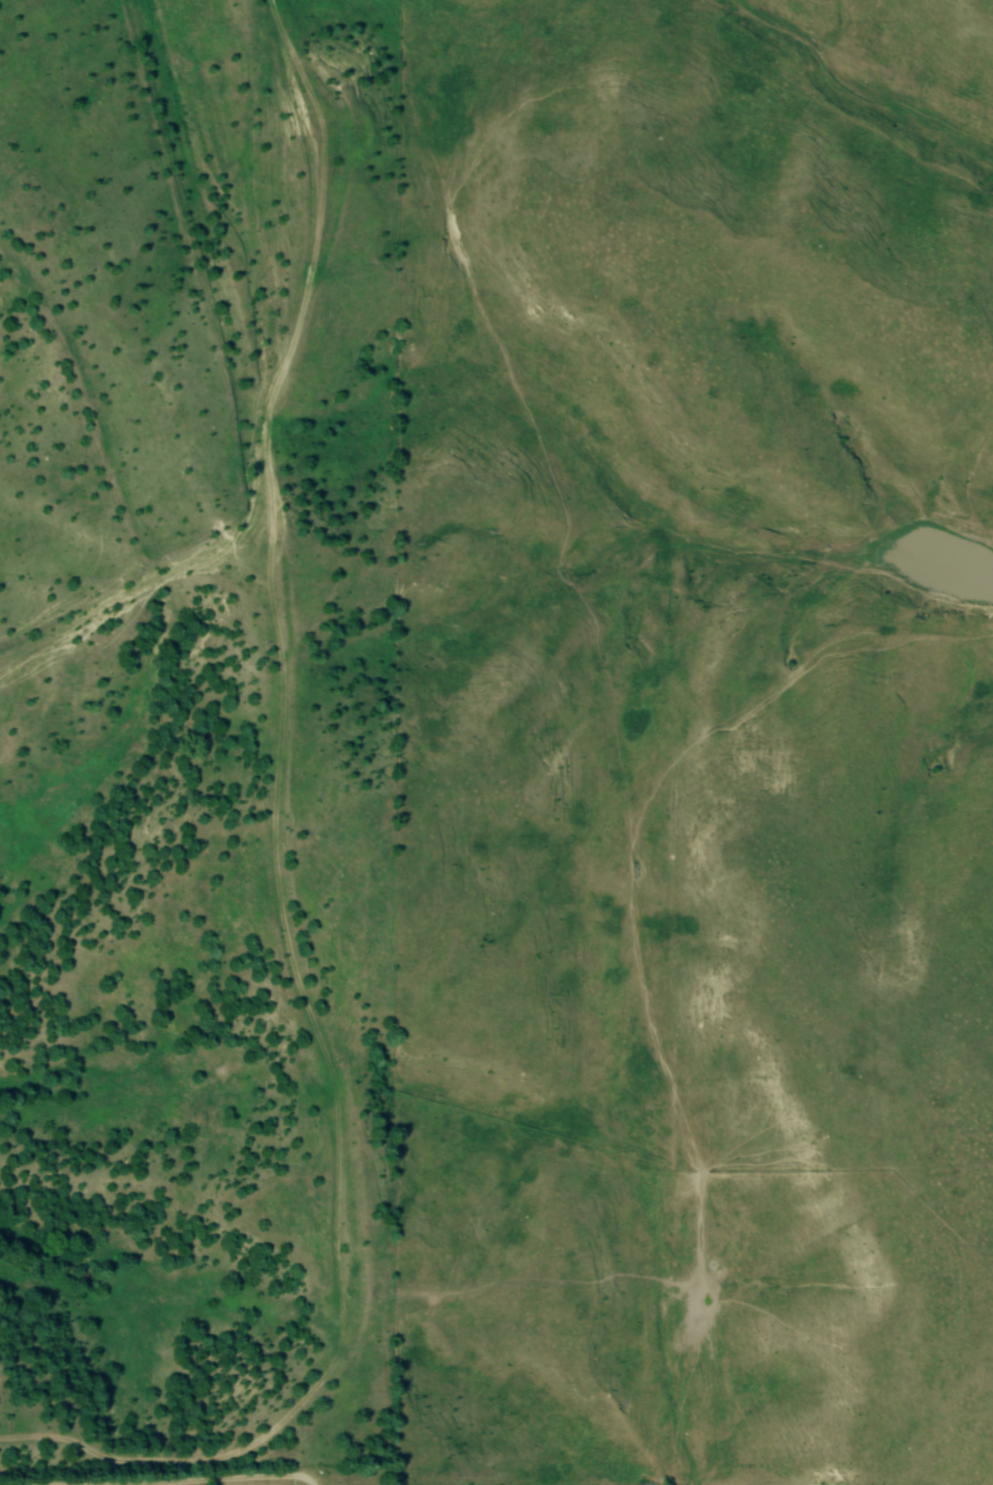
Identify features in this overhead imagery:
park: (195, 1474)
road: (184, 1480)

